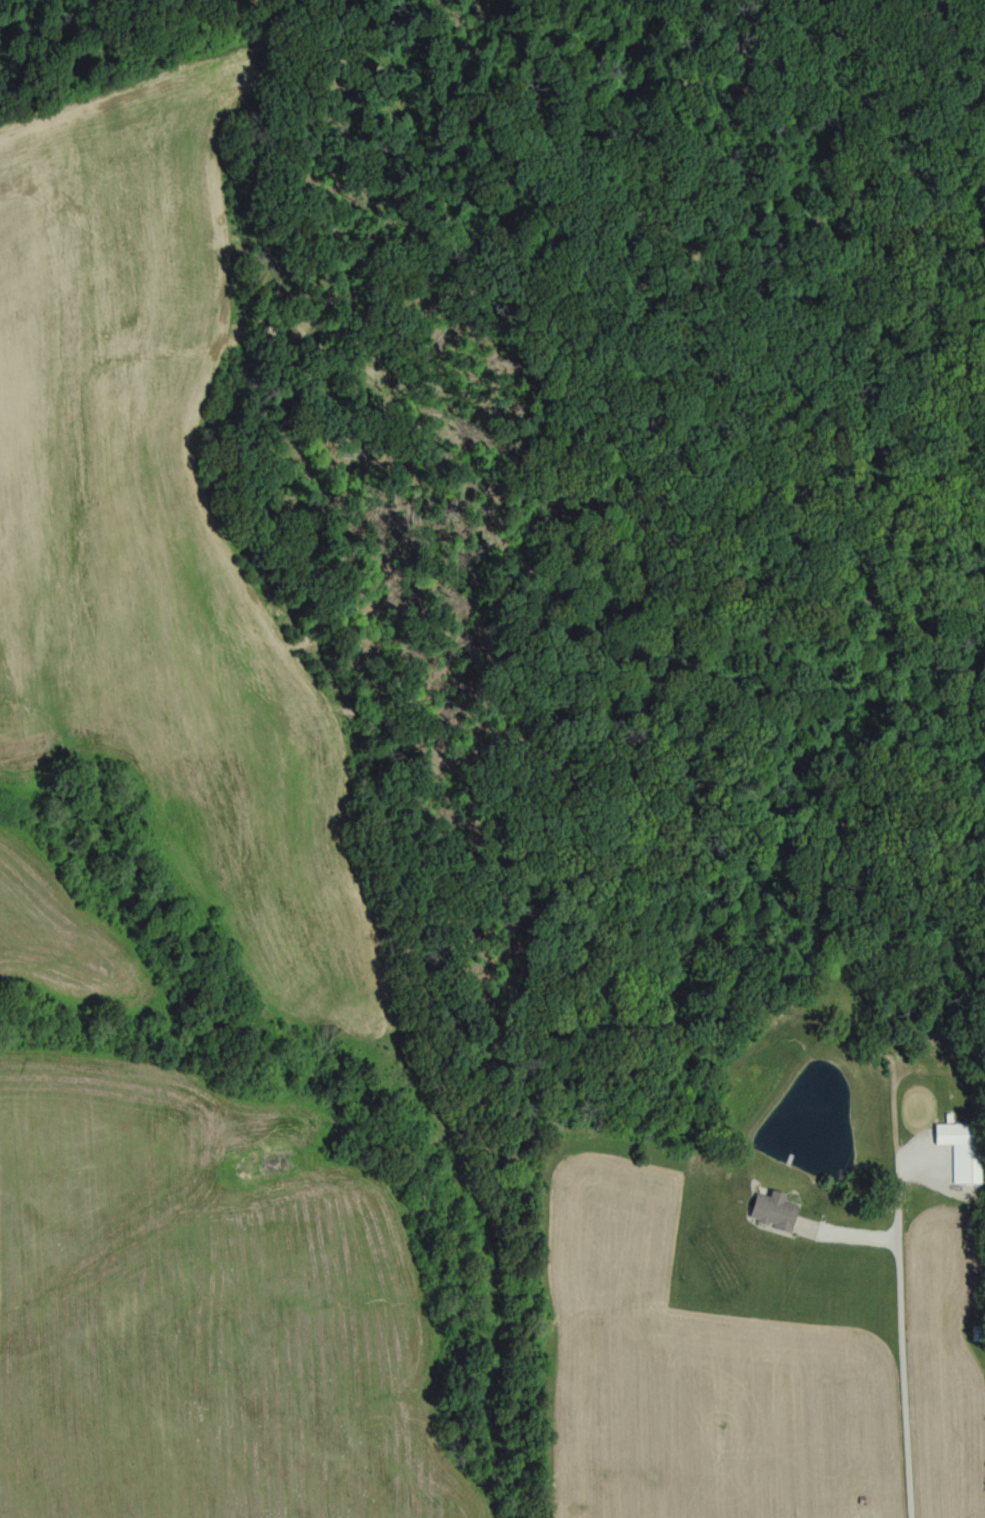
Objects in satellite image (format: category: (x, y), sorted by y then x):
building: (955, 1151)
building: (768, 1211)
road: (916, 1346)

